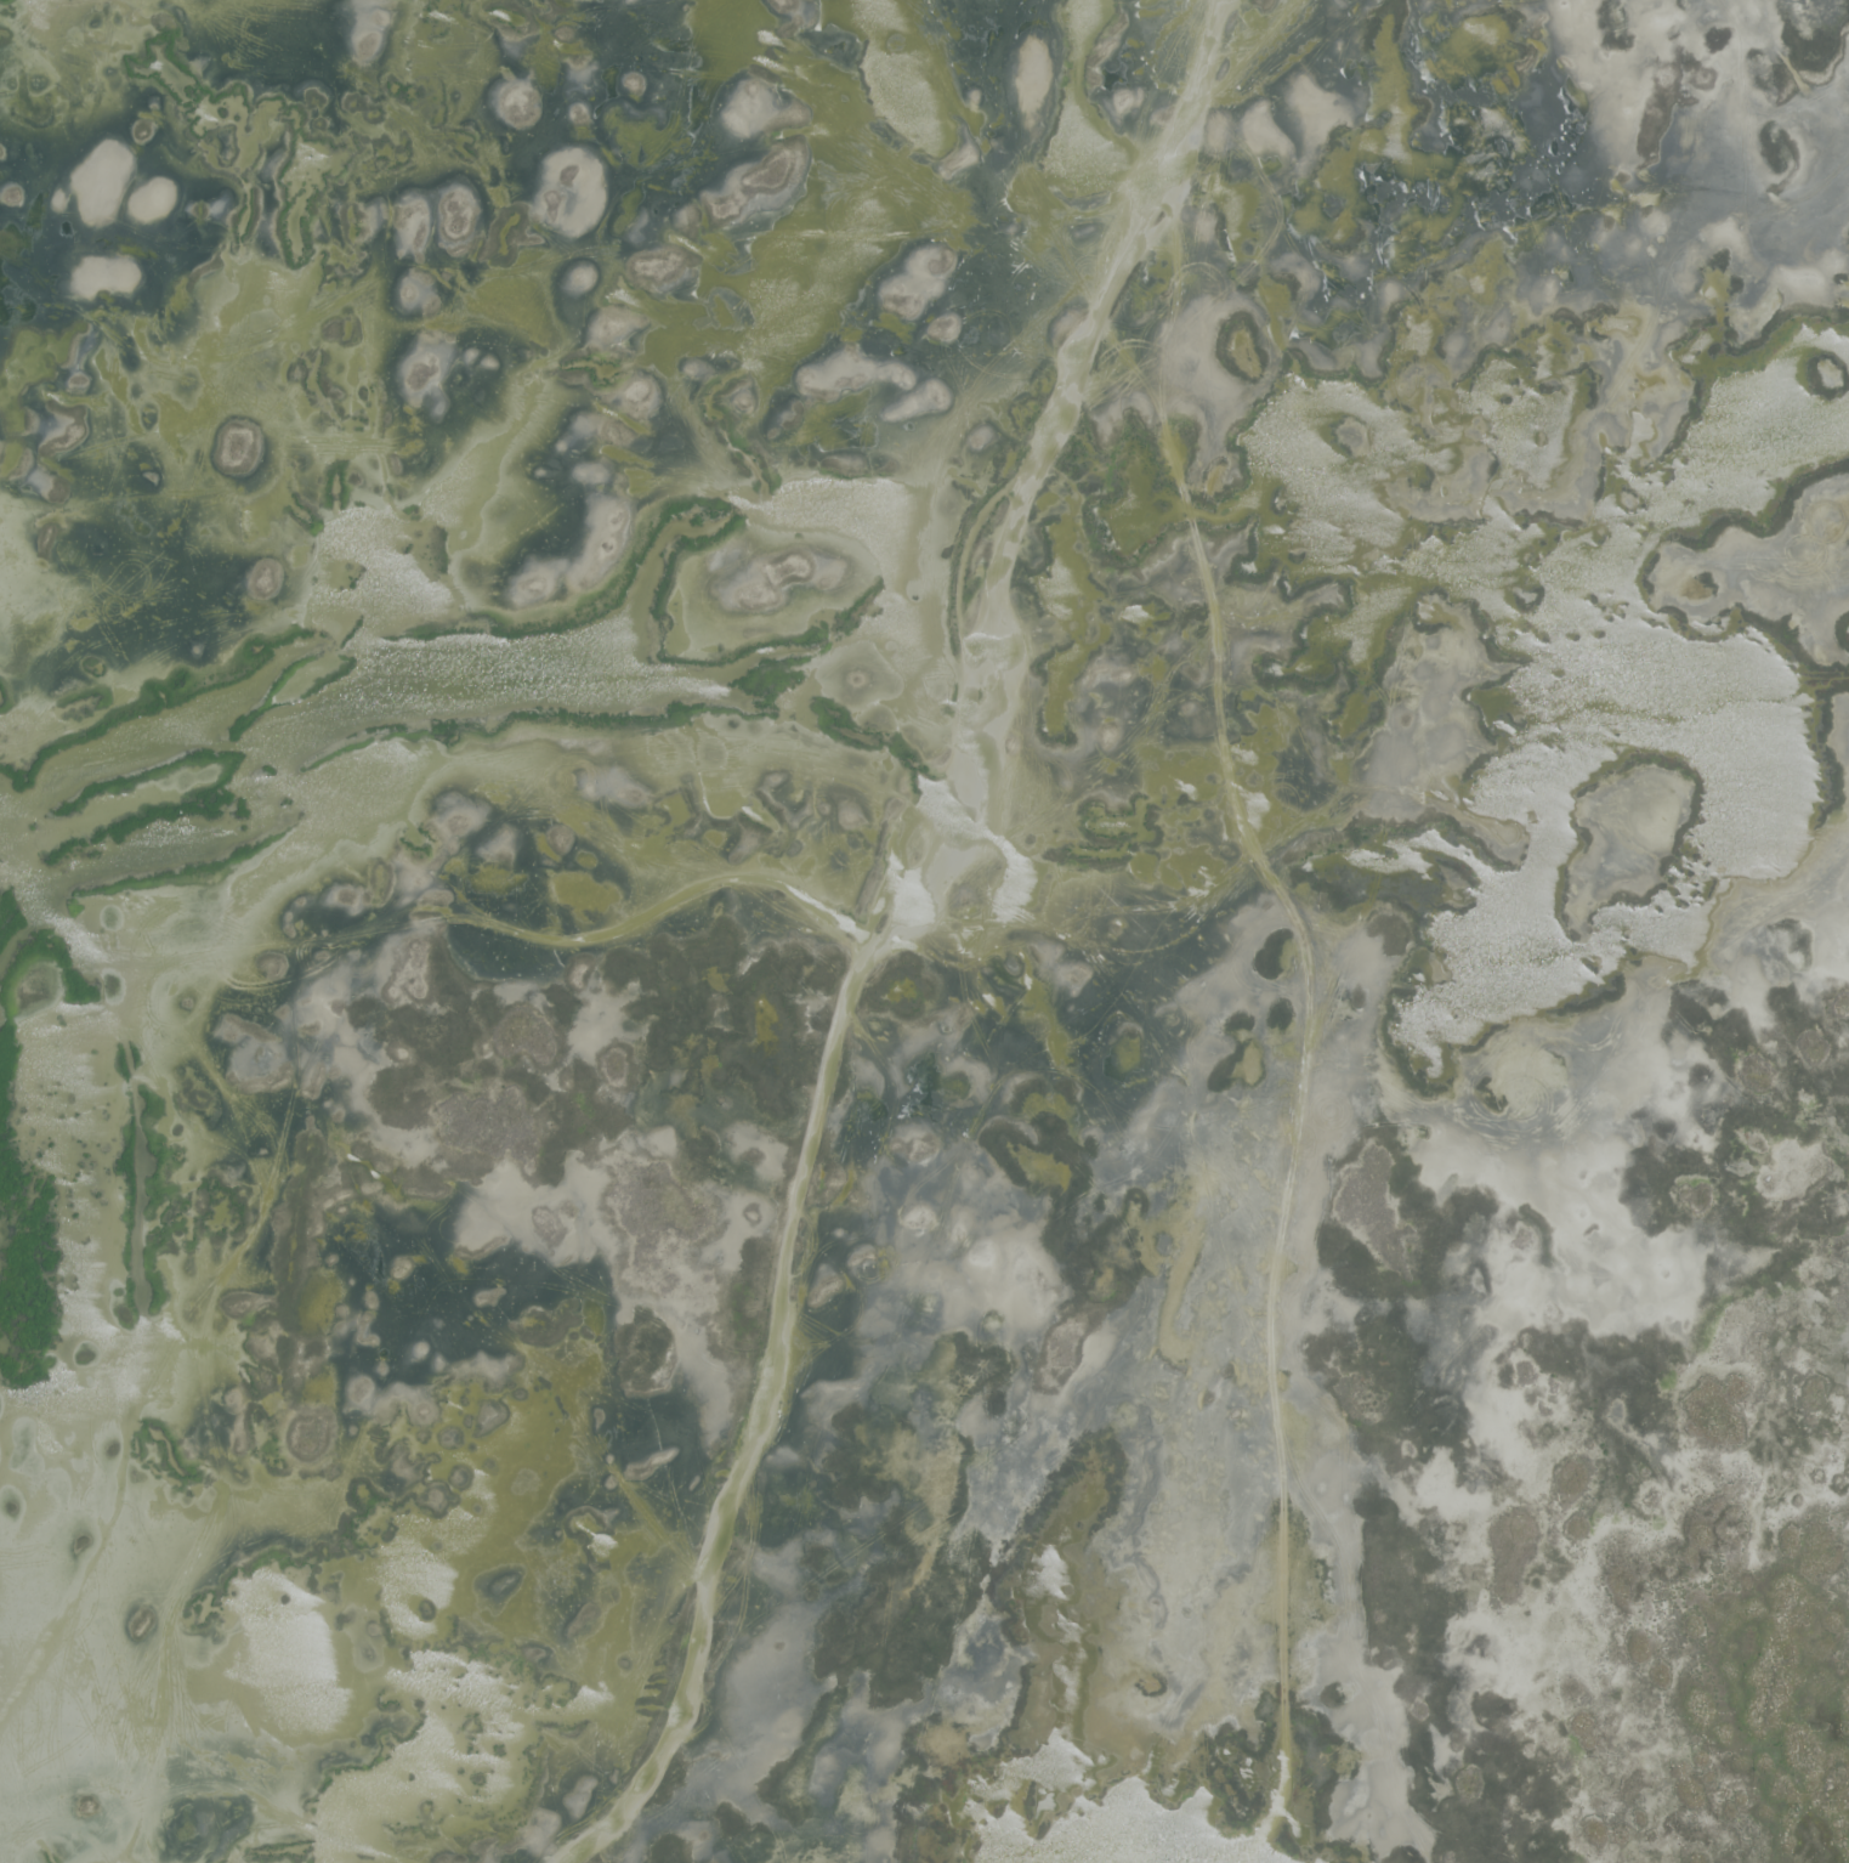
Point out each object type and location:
park: (924, 931)

